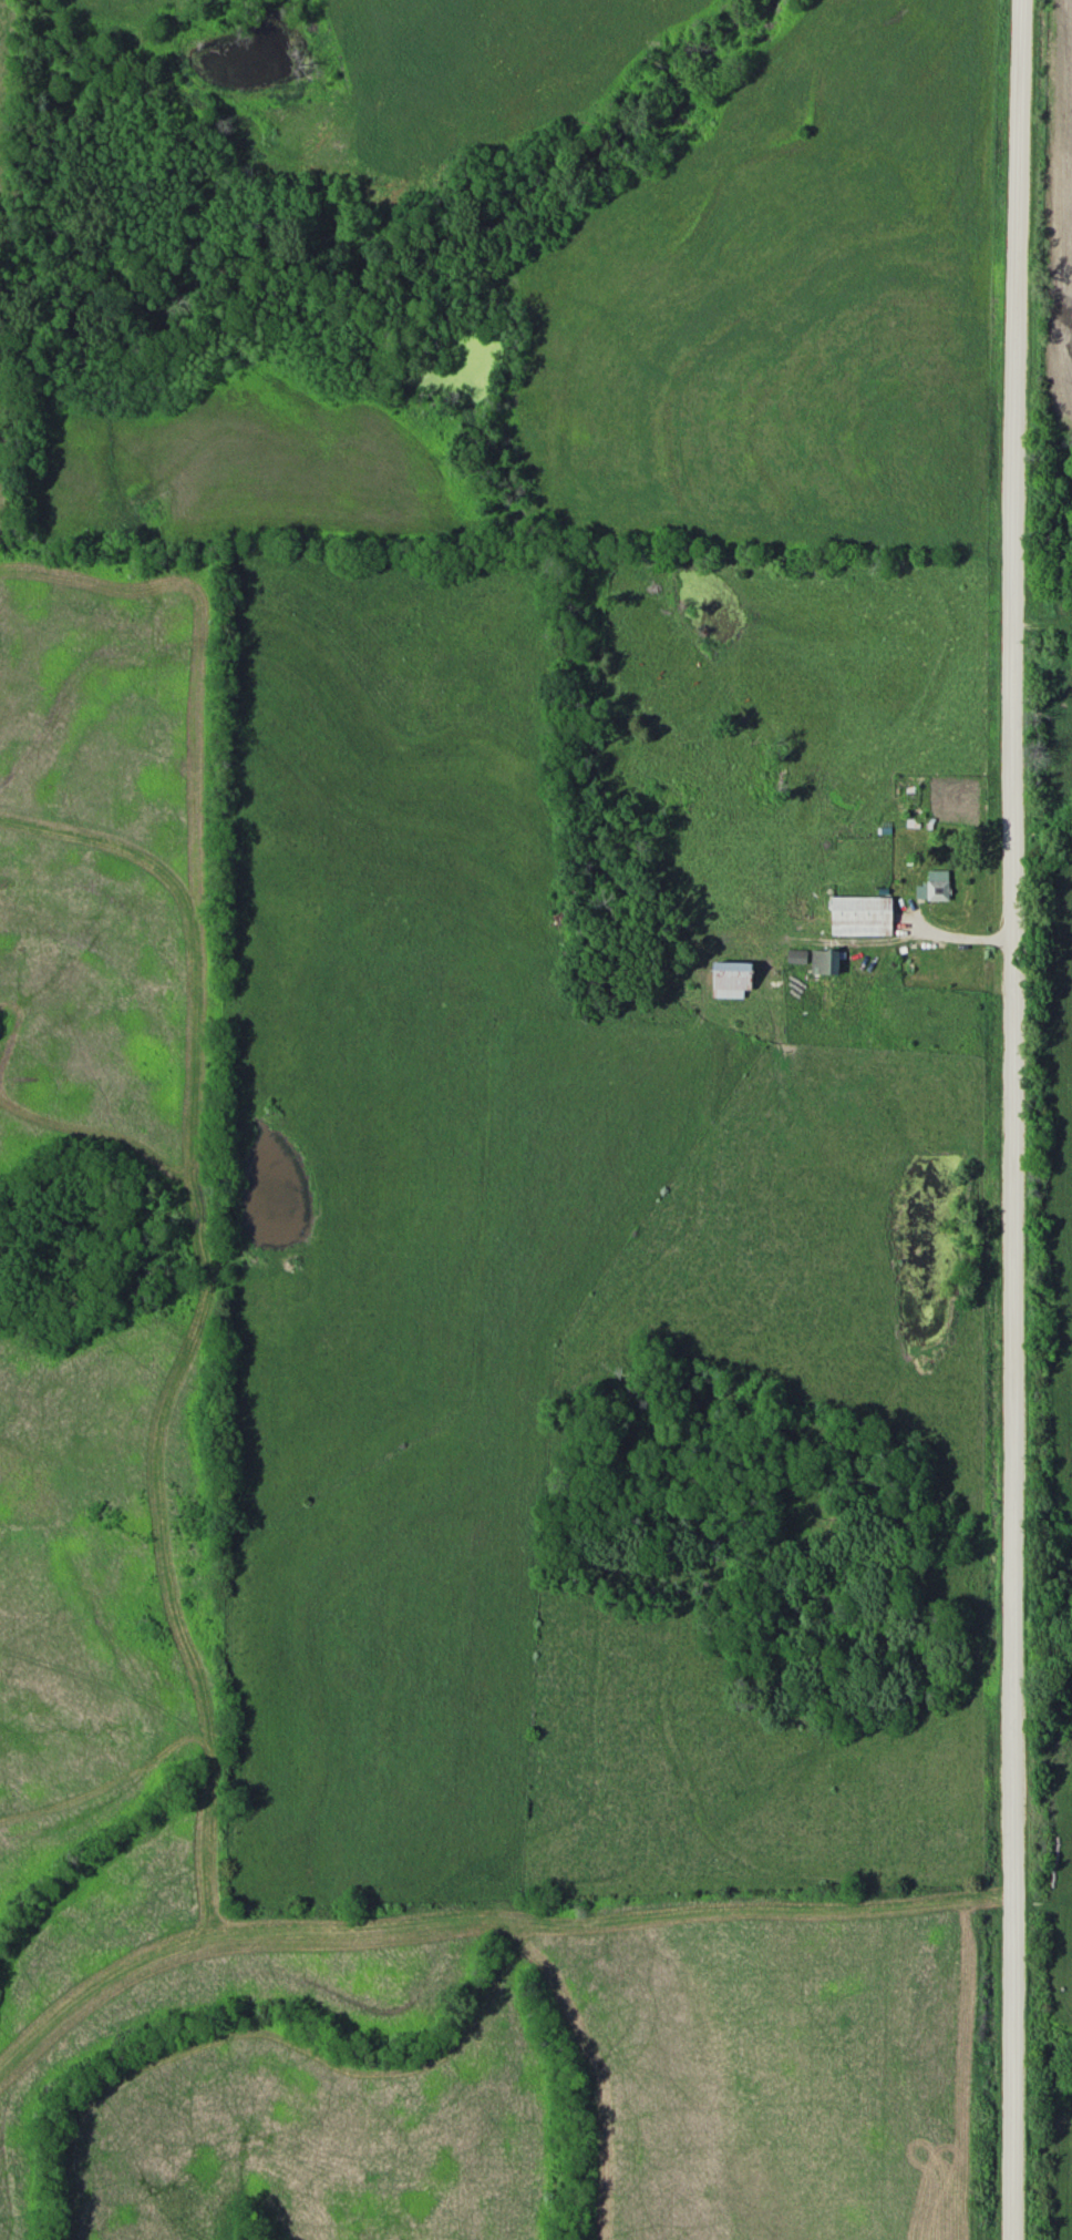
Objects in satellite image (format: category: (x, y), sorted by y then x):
building: (910, 794)
building: (930, 820)
building: (932, 884)
building: (859, 914)
building: (795, 955)
building: (823, 961)
building: (726, 978)
road: (1013, 1119)

